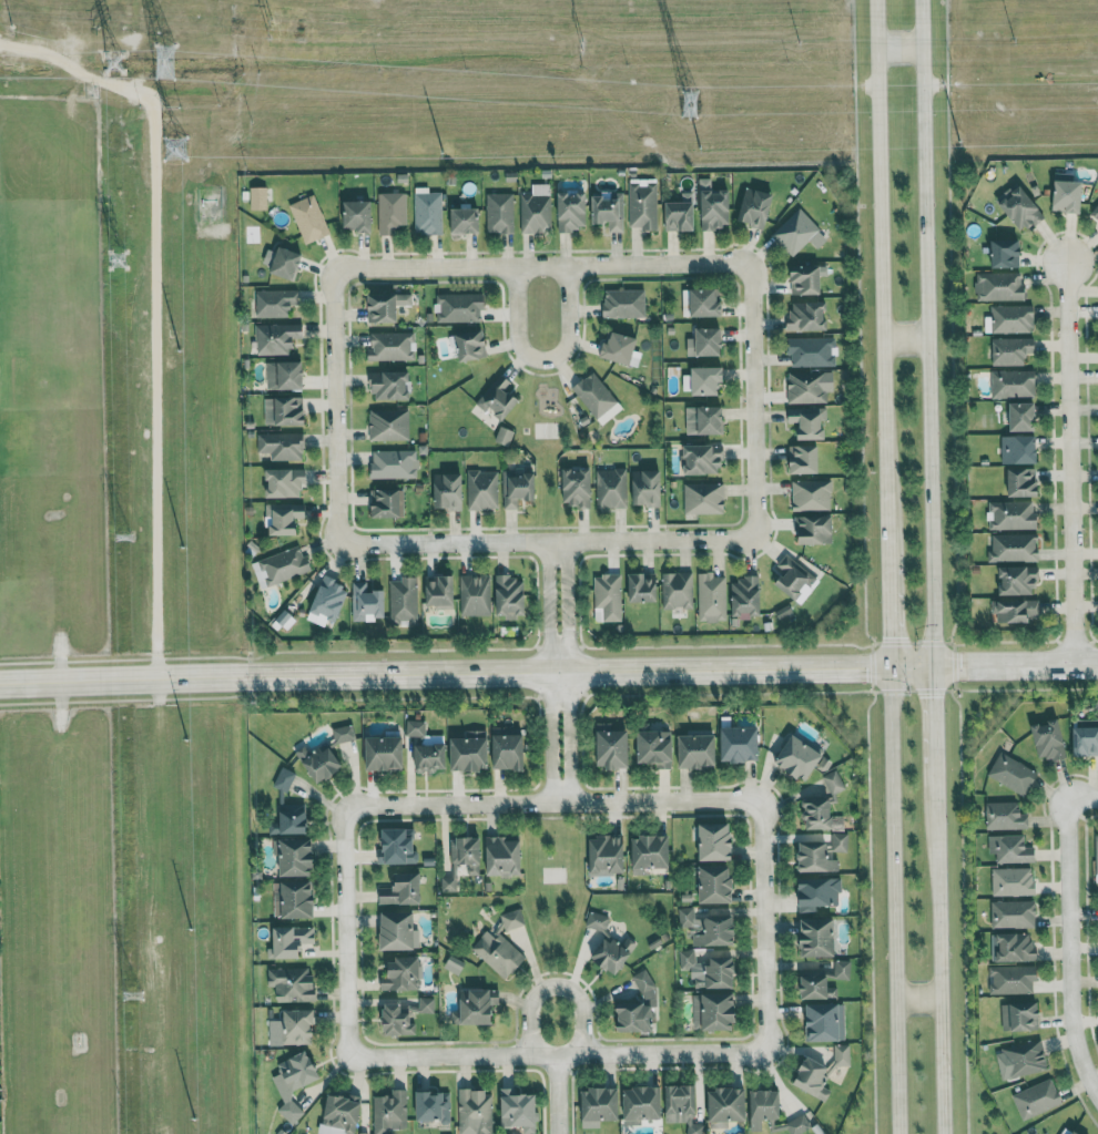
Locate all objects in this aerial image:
power tower: (270, 3)
power tower: (1013, 38)
power tower: (801, 41)
power tower: (582, 45)
power tower: (114, 62)
power tower: (160, 63)
power tower: (688, 105)
power tower: (175, 143)
building: (1068, 194)
building: (258, 198)
building: (643, 206)
building: (714, 206)
building: (755, 207)
building: (1019, 207)
building: (536, 210)
building: (571, 211)
building: (609, 211)
building: (1095, 211)
building: (390, 212)
building: (428, 213)
building: (499, 213)
building: (681, 214)
building: (358, 215)
building: (464, 217)
building: (309, 218)
building: (799, 233)
building: (1006, 253)
power tower: (118, 260)
building: (286, 263)
road: (545, 267)
building: (806, 279)
road: (882, 285)
building: (999, 286)
building: (275, 303)
building: (624, 303)
building: (705, 303)
building: (386, 306)
building: (459, 307)
building: (807, 316)
building: (1011, 318)
road: (925, 337)
building: (277, 338)
building: (705, 343)
building: (392, 346)
building: (620, 348)
building: (1011, 350)
building: (811, 351)
road: (543, 357)
building: (285, 376)
building: (706, 380)
building: (1013, 384)
building: (390, 386)
building: (809, 386)
building: (498, 398)
building: (597, 398)
road: (754, 403)
road: (336, 406)
building: (284, 411)
building: (1024, 417)
building: (705, 420)
building: (809, 421)
building: (389, 423)
building: (504, 436)
park: (546, 440)
building: (282, 446)
building: (1019, 450)
building: (804, 459)
building: (702, 460)
building: (394, 463)
road: (1070, 467)
building: (284, 482)
building: (1023, 482)
building: (577, 487)
building: (517, 488)
building: (611, 488)
building: (647, 488)
building: (481, 490)
building: (448, 491)
building: (812, 494)
building: (703, 498)
building: (387, 503)
building: (1011, 515)
building: (284, 518)
building: (814, 530)
power tower: (124, 538)
road: (546, 542)
building: (1014, 548)
building: (284, 564)
building: (794, 576)
building: (1018, 581)
building: (642, 588)
building: (677, 590)
building: (439, 592)
building: (475, 595)
building: (510, 596)
building: (712, 596)
building: (745, 596)
building: (608, 597)
building: (403, 601)
building: (367, 602)
building: (1015, 610)
building: (783, 612)
road: (891, 623)
road: (549, 671)
road: (568, 671)
traffic signals: (934, 674)
traffic signals: (892, 675)
road: (549, 682)
road: (934, 717)
building: (415, 727)
building: (344, 733)
building: (1086, 737)
building: (1048, 739)
building: (741, 743)
building: (613, 744)
building: (657, 746)
building: (508, 748)
building: (698, 749)
building: (470, 750)
building: (385, 752)
building: (430, 756)
building: (800, 756)
building: (319, 762)
building: (1013, 773)
building: (284, 778)
building: (834, 780)
road: (1097, 787)
road: (553, 801)
building: (820, 814)
building: (1005, 816)
building: (291, 818)
building: (715, 840)
building: (840, 840)
building: (398, 846)
building: (1010, 848)
building: (467, 851)
building: (650, 851)
building: (1096, 852)
building: (607, 854)
building: (504, 855)
building: (297, 856)
building: (816, 857)
building: (1013, 881)
building: (716, 882)
building: (448, 883)
park: (555, 888)
building: (403, 889)
building: (817, 891)
building: (294, 898)
road: (894, 905)
building: (1013, 913)
building: (512, 918)
road: (764, 924)
building: (709, 926)
building: (399, 929)
road: (346, 930)
road: (1090, 932)
building: (819, 937)
building: (292, 939)
building: (608, 942)
building: (1013, 946)
road: (938, 947)
building: (498, 952)
building: (710, 967)
building: (843, 968)
building: (403, 973)
building: (1011, 979)
building: (293, 983)
road: (557, 983)
building: (816, 983)
building: (479, 1004)
power tower: (133, 1007)
building: (639, 1007)
building: (715, 1010)
building: (406, 1014)
building: (1020, 1015)
building: (826, 1021)
building: (293, 1026)
road: (557, 1053)
building: (842, 1054)
building: (1021, 1059)
building: (814, 1076)
building: (294, 1081)
road: (558, 1093)
building: (1037, 1097)
building: (643, 1102)
building: (433, 1105)
building: (600, 1105)
building: (684, 1105)
building: (728, 1105)
building: (764, 1106)
building: (518, 1107)
building: (390, 1111)
building: (475, 1111)
building: (340, 1115)
building: (787, 1125)
building: (1076, 1132)

